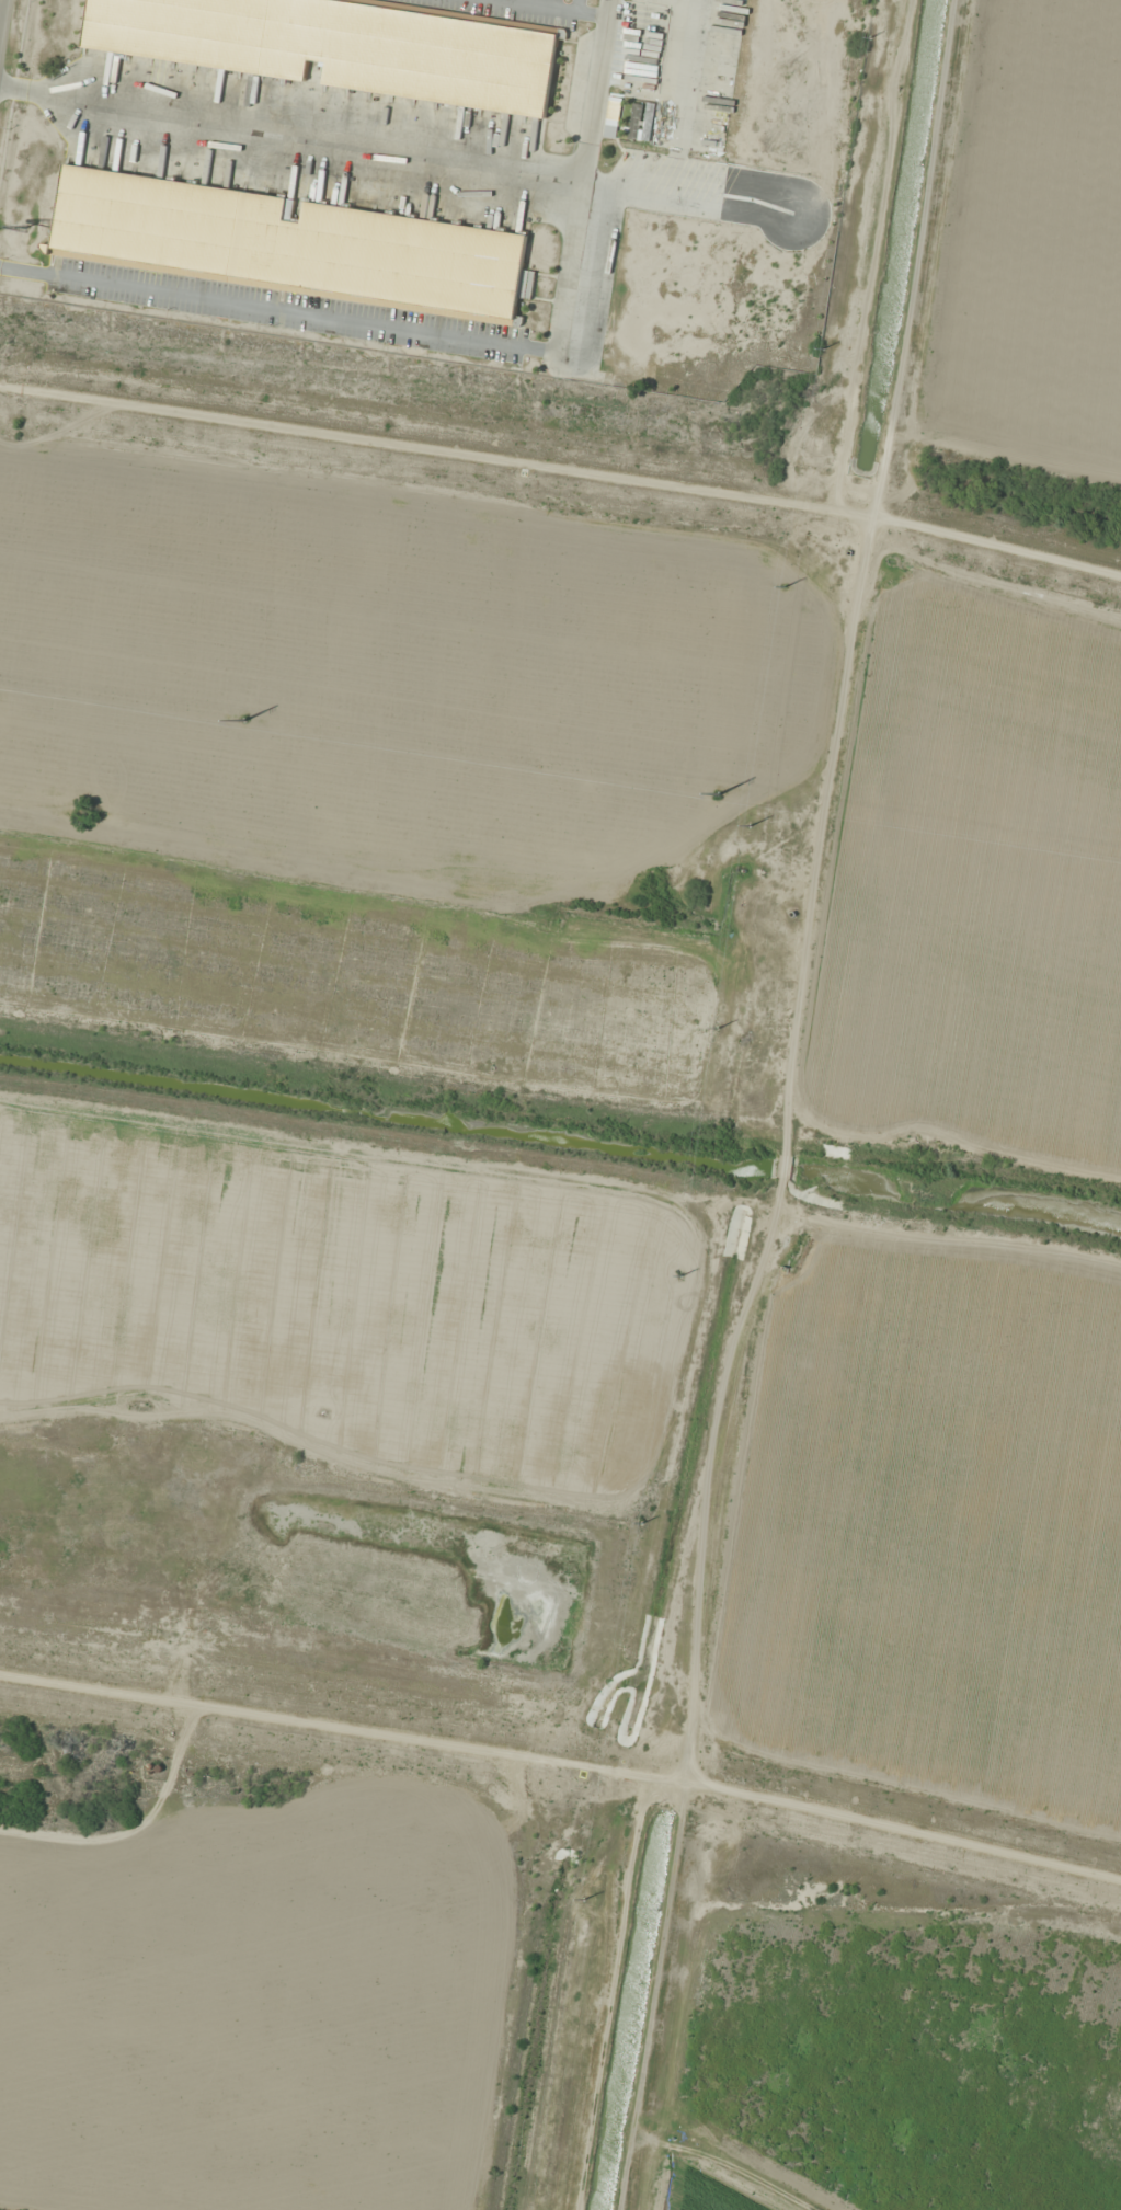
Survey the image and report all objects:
road: (0, 2)
road: (575, 5)
road: (556, 8)
building: (345, 46)
building: (613, 117)
building: (634, 121)
road: (427, 152)
road: (582, 176)
building: (286, 244)
road: (277, 309)

